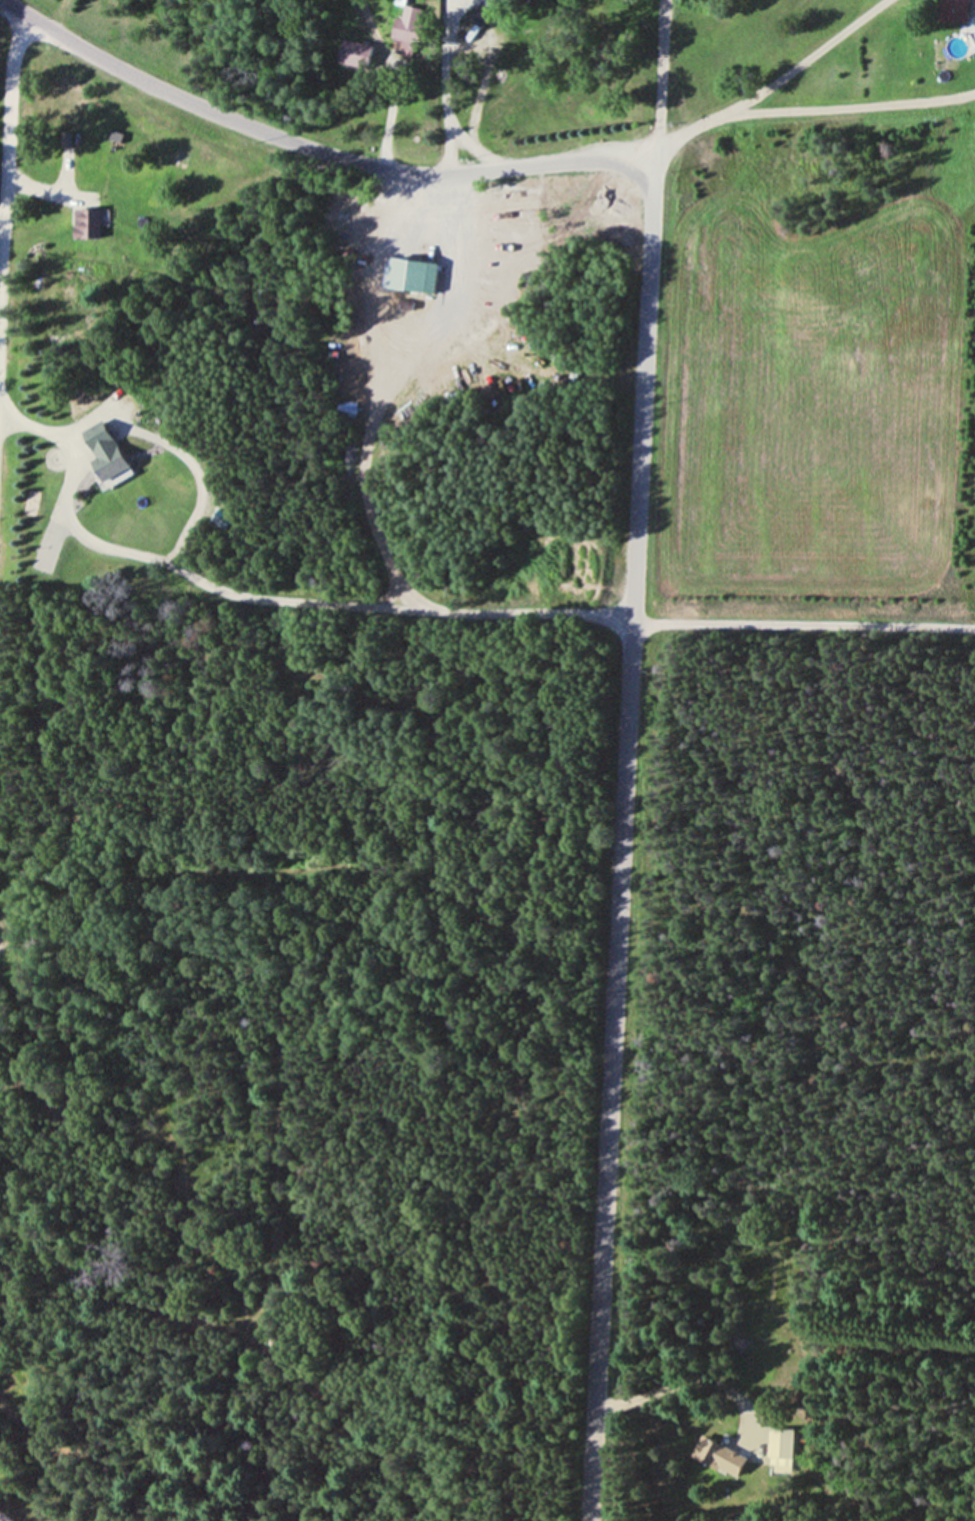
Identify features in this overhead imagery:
building: (954, 11)
building: (491, 12)
building: (417, 24)
road: (447, 53)
building: (372, 57)
road: (798, 64)
road: (417, 84)
road: (660, 87)
road: (840, 109)
road: (673, 143)
road: (6, 148)
road: (473, 148)
road: (34, 188)
building: (91, 225)
building: (416, 276)
building: (349, 408)
building: (113, 453)
road: (357, 485)
road: (67, 499)
road: (636, 500)
road: (362, 606)
road: (802, 628)
road: (671, 1386)
building: (782, 1448)

